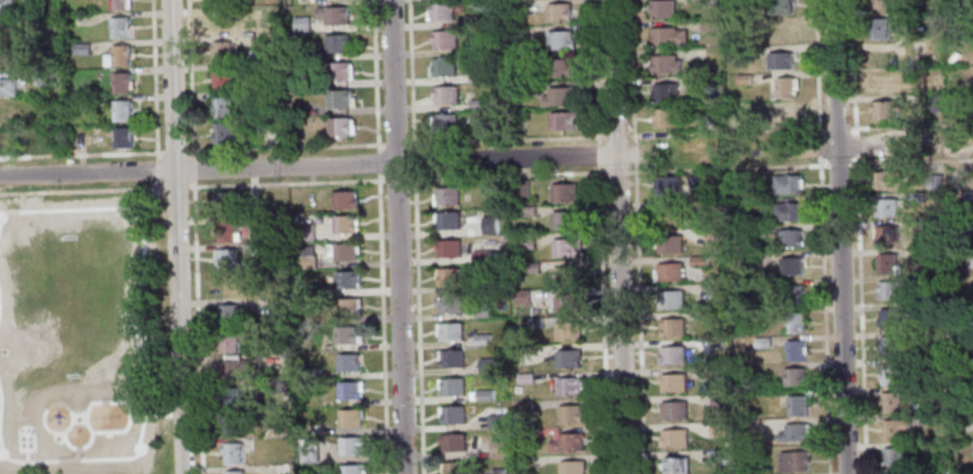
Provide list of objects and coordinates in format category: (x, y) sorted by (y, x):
building: (29, 0)
building: (707, 3)
building: (880, 3)
building: (219, 4)
building: (119, 5)
building: (6, 6)
building: (778, 6)
building: (519, 8)
building: (663, 9)
building: (441, 13)
building: (559, 13)
building: (254, 15)
building: (334, 16)
building: (34, 23)
building: (747, 23)
building: (302, 25)
building: (707, 25)
building: (220, 26)
building: (119, 28)
building: (878, 29)
building: (6, 31)
building: (520, 31)
building: (779, 33)
building: (667, 37)
building: (445, 40)
building: (561, 40)
building: (337, 44)
building: (80, 48)
building: (487, 49)
building: (220, 52)
building: (747, 53)
building: (117, 56)
building: (6, 59)
building: (521, 60)
building: (780, 61)
building: (667, 64)
building: (443, 68)
building: (560, 68)
building: (267, 69)
building: (337, 72)
road: (377, 74)
road: (412, 74)
road: (834, 74)
road: (190, 77)
building: (476, 77)
building: (45, 78)
road: (154, 78)
road: (613, 78)
building: (744, 79)
building: (222, 81)
building: (699, 81)
road: (816, 81)
building: (120, 82)
road: (852, 82)
building: (882, 83)
building: (7, 87)
building: (523, 88)
building: (785, 88)
building: (68, 90)
building: (666, 92)
building: (447, 96)
building: (259, 97)
building: (560, 97)
building: (340, 100)
building: (89, 103)
building: (955, 103)
building: (477, 104)
building: (933, 104)
building: (221, 108)
building: (121, 110)
building: (886, 110)
building: (787, 113)
building: (7, 114)
building: (773, 115)
building: (667, 118)
building: (562, 121)
building: (712, 121)
building: (446, 123)
building: (339, 128)
building: (486, 128)
building: (517, 129)
building: (94, 130)
road: (690, 133)
building: (222, 135)
road: (905, 135)
building: (270, 137)
building: (122, 138)
building: (3, 140)
road: (396, 144)
road: (285, 147)
road: (174, 151)
road: (80, 154)
road: (414, 161)
road: (379, 162)
road: (912, 162)
road: (839, 164)
road: (308, 167)
road: (728, 167)
road: (191, 168)
road: (156, 169)
road: (618, 171)
road: (508, 174)
road: (397, 179)
building: (888, 179)
building: (936, 181)
road: (286, 183)
building: (695, 183)
building: (788, 183)
road: (157, 185)
building: (668, 185)
road: (174, 186)
building: (492, 188)
building: (520, 188)
road: (81, 190)
building: (564, 192)
building: (448, 196)
building: (914, 196)
building: (968, 196)
building: (345, 199)
building: (226, 202)
building: (886, 207)
building: (528, 211)
building: (789, 212)
building: (670, 216)
building: (565, 219)
building: (448, 220)
building: (275, 222)
building: (346, 223)
building: (968, 224)
building: (489, 225)
building: (921, 228)
building: (306, 231)
building: (759, 231)
building: (226, 232)
building: (887, 234)
road: (397, 236)
road: (601, 236)
road: (636, 236)
building: (713, 236)
road: (175, 237)
building: (791, 239)
building: (526, 242)
building: (669, 244)
building: (259, 248)
building: (448, 248)
building: (566, 248)
building: (347, 251)
building: (927, 253)
building: (480, 256)
building: (307, 257)
building: (227, 259)
building: (698, 261)
building: (887, 264)
building: (791, 267)
building: (531, 268)
building: (953, 270)
building: (669, 272)
building: (566, 275)
building: (448, 277)
building: (347, 279)
building: (482, 285)
building: (315, 290)
building: (891, 290)
building: (715, 291)
building: (795, 295)
building: (522, 296)
building: (671, 299)
building: (450, 304)
building: (567, 304)
building: (348, 307)
building: (482, 311)
road: (841, 311)
building: (534, 312)
building: (228, 315)
road: (620, 315)
building: (717, 317)
building: (890, 317)
building: (763, 319)
road: (823, 319)
road: (860, 319)
building: (535, 322)
road: (383, 323)
road: (418, 323)
building: (794, 323)
road: (197, 327)
building: (672, 328)
building: (568, 330)
building: (449, 331)
road: (10, 332)
park: (81, 334)
building: (347, 335)
building: (482, 340)
building: (228, 342)
building: (762, 343)
building: (889, 347)
building: (795, 350)
building: (673, 355)
building: (452, 359)
building: (568, 359)
building: (348, 363)
building: (922, 363)
building: (487, 365)
building: (234, 370)
building: (313, 373)
building: (890, 374)
building: (717, 376)
building: (794, 377)
building: (525, 378)
building: (674, 382)
building: (569, 386)
building: (451, 387)
building: (276, 388)
building: (351, 389)
building: (473, 395)
building: (485, 395)
building: (231, 398)
building: (718, 400)
building: (890, 402)
building: (525, 406)
building: (797, 406)
building: (674, 410)
building: (570, 414)
building: (453, 415)
building: (351, 417)
building: (496, 420)
building: (969, 421)
building: (231, 426)
building: (894, 428)
building: (719, 430)
building: (794, 433)
building: (675, 438)
building: (453, 442)
building: (567, 443)
building: (308, 444)
building: (352, 445)
building: (497, 448)
building: (233, 453)
building: (308, 454)
building: (894, 456)
building: (718, 458)
building: (290, 460)
building: (526, 461)
building: (794, 461)
building: (676, 466)
building: (572, 467)
building: (454, 468)
building: (353, 469)
building: (500, 471)
building: (234, 472)
building: (934, 472)

